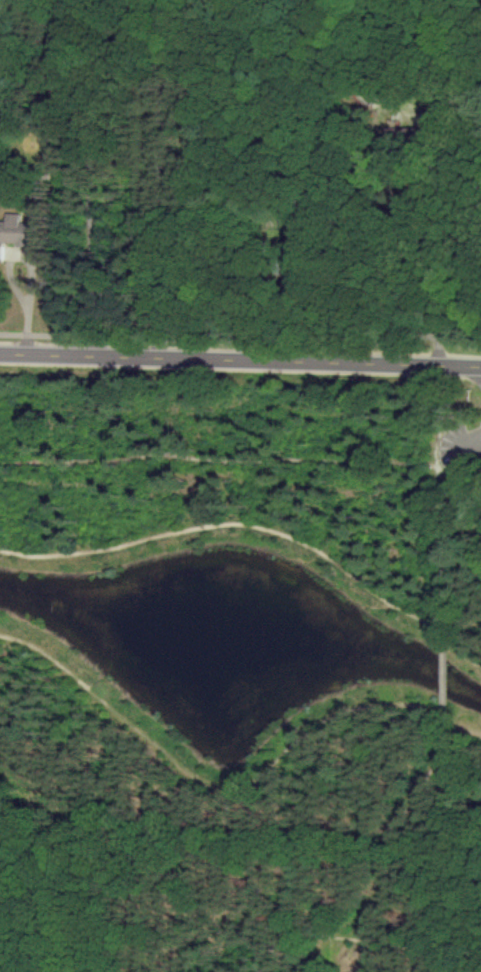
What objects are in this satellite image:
road: (91, 178)
road: (156, 178)
building: (16, 232)
road: (32, 270)
road: (444, 270)
road: (241, 340)
road: (240, 360)
parking lot: (461, 451)
road: (240, 476)
road: (479, 483)
road: (234, 524)
road: (446, 556)
road: (461, 646)
park: (239, 664)
road: (442, 689)
road: (462, 748)
road: (417, 779)
road: (218, 800)
road: (450, 857)
road: (200, 866)
road: (369, 891)
road: (244, 948)
road: (399, 951)
road: (322, 960)

